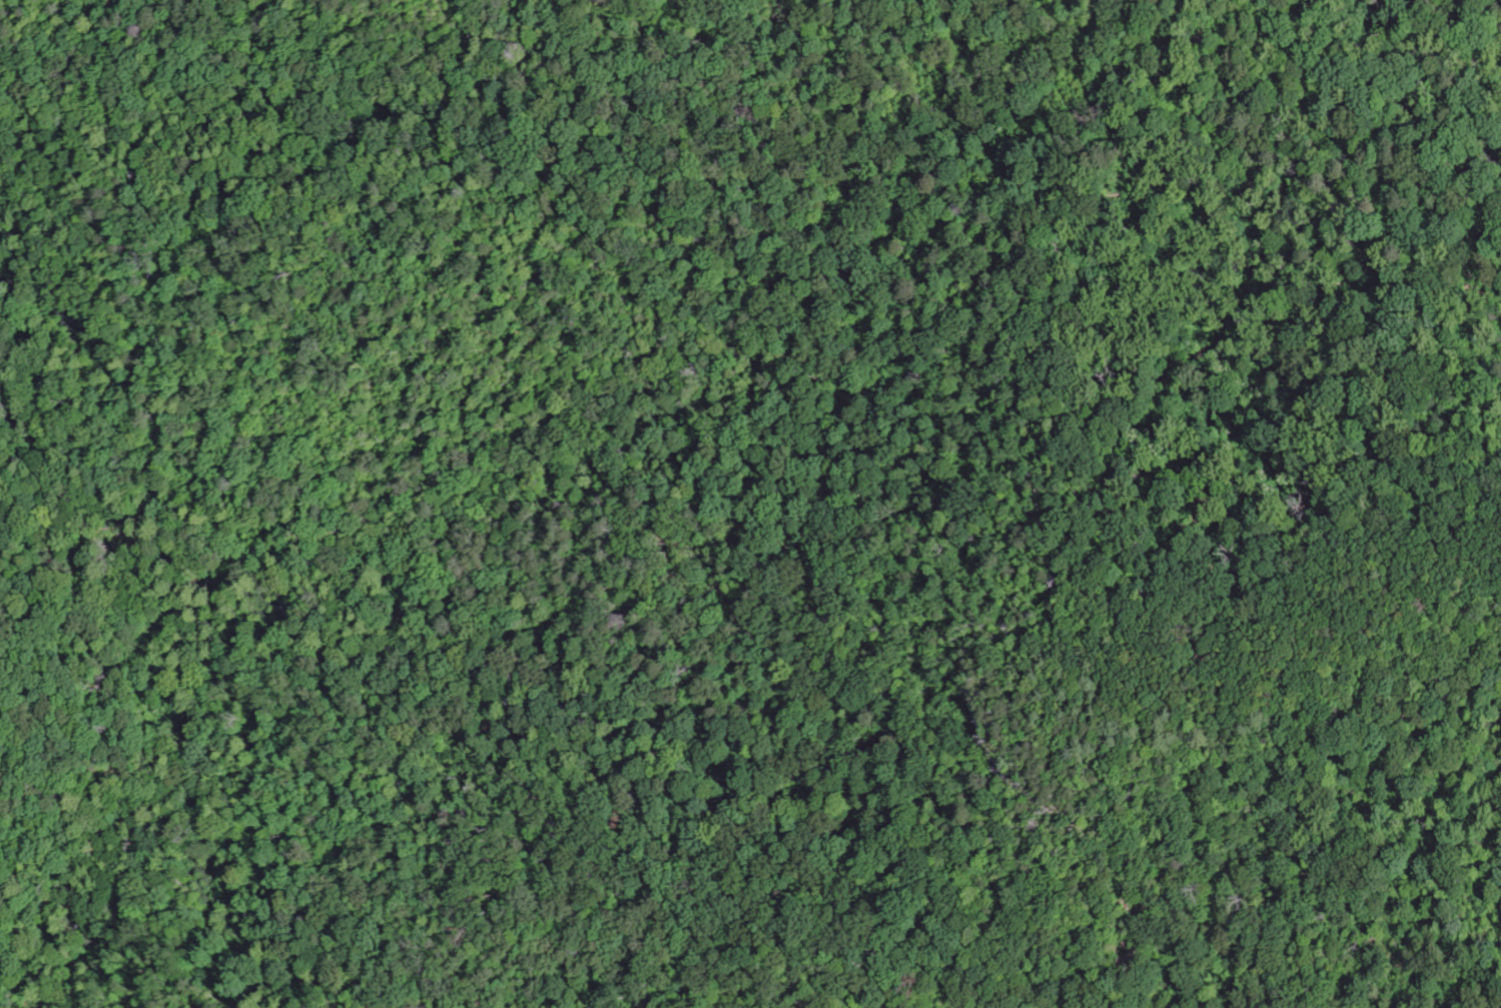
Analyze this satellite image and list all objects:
park: (29, 322)

